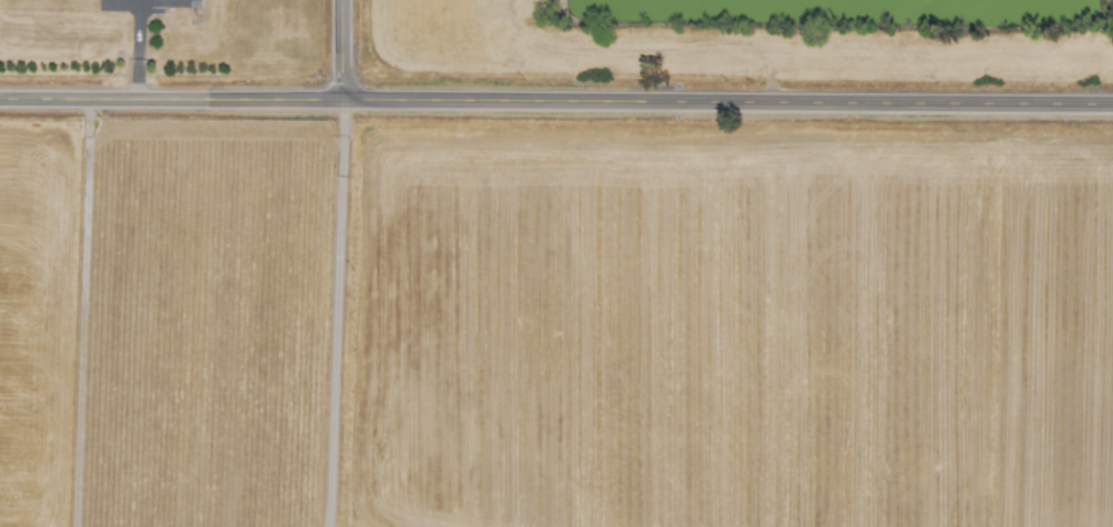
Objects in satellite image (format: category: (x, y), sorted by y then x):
road: (134, 49)
road: (339, 51)
road: (555, 101)
road: (82, 313)
road: (335, 314)

